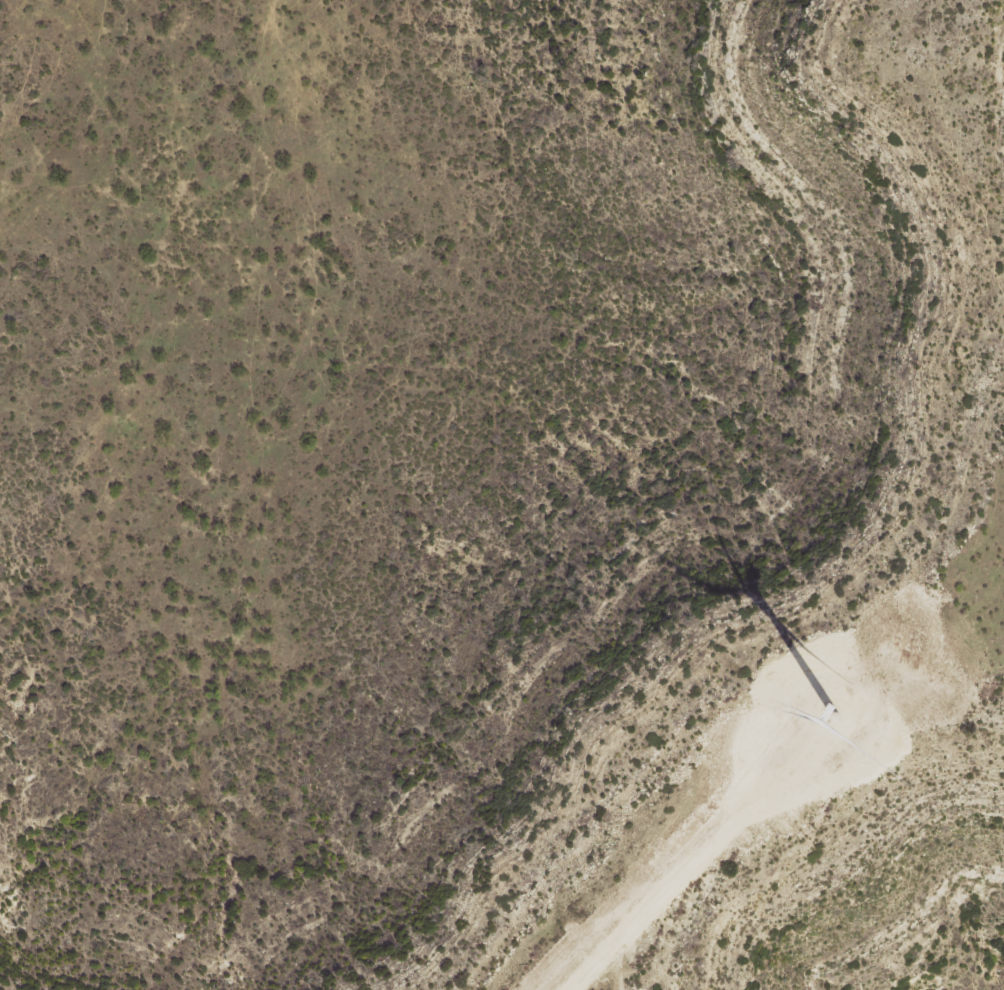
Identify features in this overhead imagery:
wind turbine: (822, 694)

